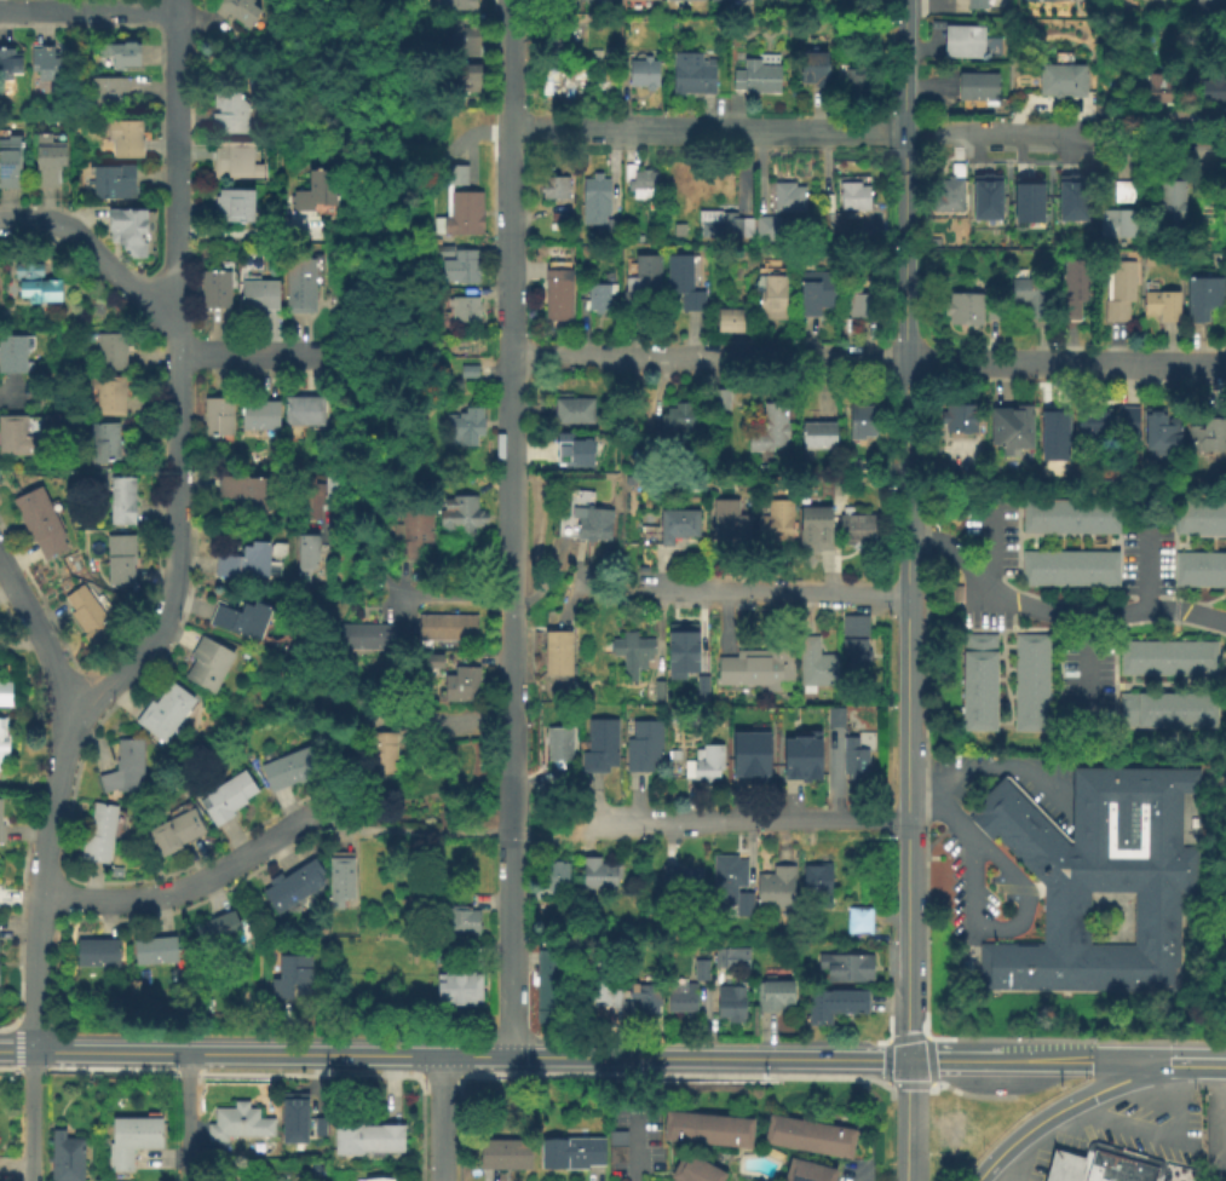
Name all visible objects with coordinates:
building: (557, 0)
building: (634, 0)
building: (684, 0)
building: (727, 1)
building: (453, 5)
building: (975, 5)
road: (172, 6)
building: (1210, 6)
road: (903, 10)
road: (86, 11)
building: (237, 11)
building: (547, 36)
building: (460, 40)
building: (960, 41)
building: (119, 57)
building: (44, 63)
building: (8, 65)
building: (813, 70)
building: (609, 73)
building: (643, 75)
building: (692, 75)
building: (758, 75)
building: (1061, 80)
building: (465, 81)
building: (562, 82)
building: (856, 83)
building: (977, 88)
building: (1162, 90)
building: (1211, 91)
building: (108, 98)
building: (228, 115)
road: (1152, 120)
road: (707, 128)
road: (1064, 131)
building: (123, 140)
building: (8, 162)
building: (234, 162)
building: (47, 163)
road: (174, 173)
building: (639, 183)
building: (111, 185)
building: (553, 186)
building: (1124, 194)
building: (950, 195)
building: (317, 197)
building: (853, 197)
building: (989, 197)
building: (1075, 197)
building: (1030, 198)
building: (787, 200)
building: (1225, 206)
building: (232, 207)
building: (457, 207)
building: (1170, 207)
building: (598, 208)
building: (727, 221)
building: (834, 224)
building: (1116, 225)
building: (556, 226)
building: (677, 231)
building: (127, 232)
building: (765, 232)
road: (258, 237)
road: (99, 257)
building: (456, 265)
road: (902, 280)
building: (34, 283)
building: (300, 284)
building: (639, 284)
building: (681, 284)
building: (214, 290)
building: (557, 290)
building: (1072, 290)
building: (1117, 290)
building: (770, 292)
building: (816, 294)
building: (258, 295)
building: (599, 298)
building: (1030, 300)
building: (1203, 300)
building: (1161, 307)
building: (462, 311)
building: (963, 311)
building: (858, 312)
building: (992, 313)
building: (732, 322)
road: (864, 345)
road: (991, 345)
building: (110, 352)
building: (13, 355)
road: (243, 355)
road: (869, 362)
building: (468, 373)
road: (10, 394)
building: (107, 394)
building: (718, 402)
road: (175, 404)
building: (572, 411)
building: (303, 413)
building: (258, 416)
building: (864, 417)
building: (218, 419)
building: (959, 421)
building: (464, 427)
building: (680, 427)
building: (1103, 428)
building: (769, 432)
building: (1012, 433)
building: (1052, 434)
building: (1161, 436)
building: (1205, 437)
building: (16, 438)
building: (816, 440)
building: (103, 444)
building: (571, 453)
building: (854, 465)
building: (764, 468)
building: (247, 495)
building: (309, 500)
building: (121, 502)
building: (460, 518)
building: (1067, 518)
building: (583, 519)
building: (1199, 519)
building: (38, 523)
road: (175, 524)
building: (776, 524)
building: (729, 525)
road: (512, 526)
building: (677, 526)
building: (856, 530)
building: (813, 531)
building: (410, 532)
road: (983, 537)
building: (305, 560)
building: (119, 563)
building: (243, 565)
road: (1141, 565)
road: (370, 571)
building: (1069, 571)
building: (1199, 571)
road: (18, 592)
road: (771, 593)
road: (454, 594)
road: (600, 598)
road: (1054, 613)
building: (87, 618)
building: (241, 622)
building: (853, 627)
building: (447, 629)
building: (362, 638)
building: (680, 652)
building: (558, 656)
building: (631, 656)
road: (142, 658)
building: (1165, 658)
building: (853, 659)
building: (431, 663)
building: (207, 666)
building: (812, 667)
road: (54, 668)
building: (756, 668)
road: (1081, 669)
building: (977, 684)
building: (1030, 685)
building: (462, 686)
building: (701, 689)
building: (657, 693)
building: (4, 696)
building: (1165, 712)
building: (163, 715)
building: (833, 719)
road: (459, 724)
building: (2, 725)
building: (558, 747)
building: (599, 749)
building: (2, 750)
building: (643, 750)
building: (749, 753)
building: (379, 755)
building: (800, 756)
building: (853, 760)
road: (57, 766)
building: (706, 766)
road: (997, 768)
building: (288, 771)
building: (123, 772)
road: (904, 799)
building: (225, 800)
building: (0, 823)
road: (743, 824)
road: (408, 830)
building: (174, 835)
building: (98, 837)
road: (519, 839)
road: (566, 842)
road: (40, 859)
road: (996, 863)
building: (599, 875)
building: (677, 880)
building: (340, 882)
building: (816, 882)
building: (1094, 882)
building: (549, 885)
building: (730, 886)
road: (183, 888)
building: (775, 891)
building: (284, 893)
road: (965, 894)
building: (858, 921)
building: (461, 924)
building: (217, 931)
building: (154, 952)
building: (97, 955)
building: (730, 958)
building: (845, 968)
building: (698, 970)
road: (33, 973)
building: (289, 986)
building: (457, 990)
building: (603, 992)
building: (548, 993)
building: (643, 998)
building: (680, 998)
building: (773, 998)
building: (729, 1004)
building: (846, 1004)
building: (818, 1010)
road: (13, 1047)
road: (398, 1052)
road: (835, 1056)
traffic signals: (903, 1058)
road: (959, 1059)
road: (1053, 1059)
road: (1129, 1059)
traffic signals: (1167, 1060)
road: (1196, 1060)
road: (1015, 1095)
road: (1059, 1105)
road: (28, 1113)
road: (1222, 1114)
road: (186, 1116)
building: (292, 1117)
road: (438, 1117)
road: (903, 1119)
building: (317, 1124)
building: (240, 1127)
building: (707, 1129)
road: (1146, 1135)
building: (808, 1137)
building: (132, 1140)
building: (367, 1141)
road: (633, 1147)
building: (616, 1148)
building: (503, 1153)
building: (570, 1153)
road: (1018, 1153)
building: (64, 1157)
building: (1101, 1164)
building: (1064, 1166)
building: (1141, 1169)
building: (693, 1170)
building: (807, 1171)
road: (858, 1173)
building: (376, 1180)

